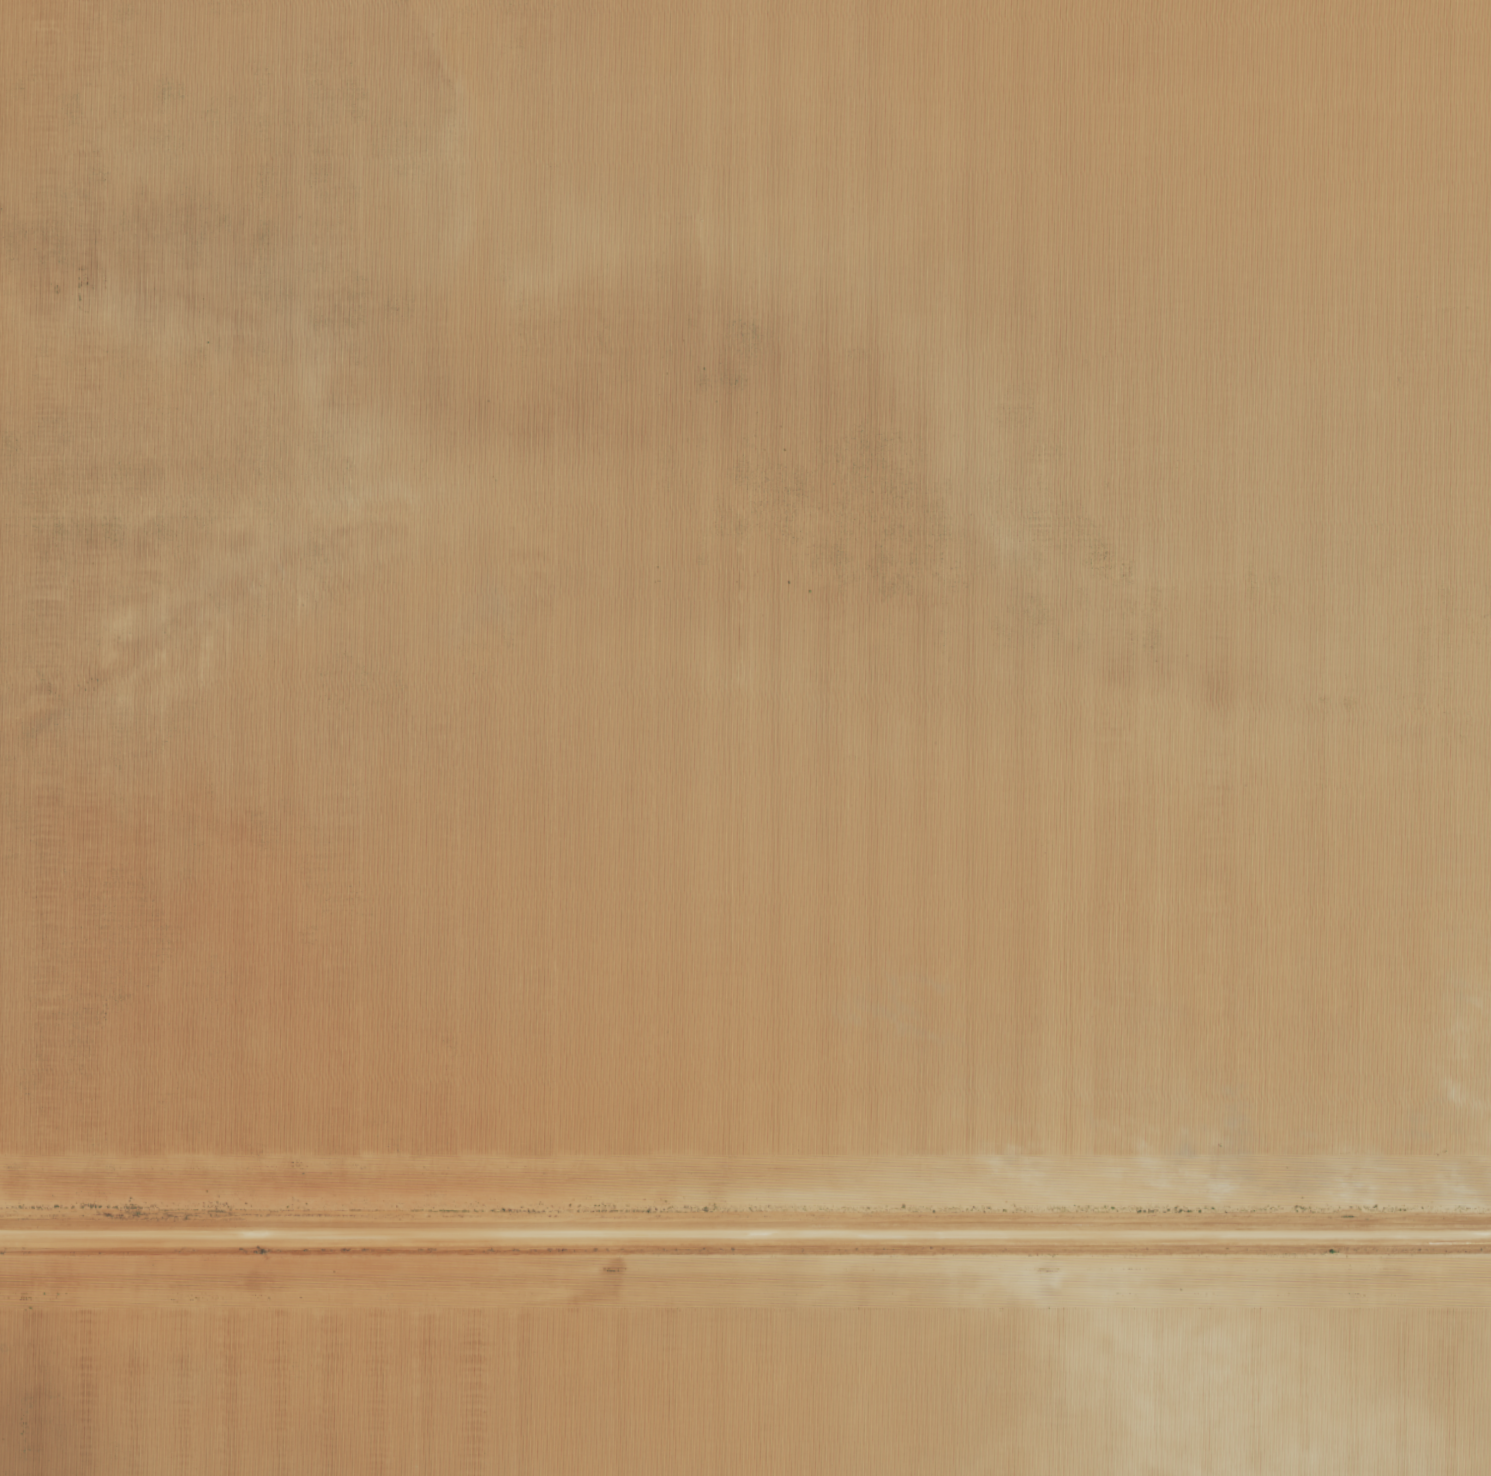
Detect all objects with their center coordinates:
road: (745, 1220)

